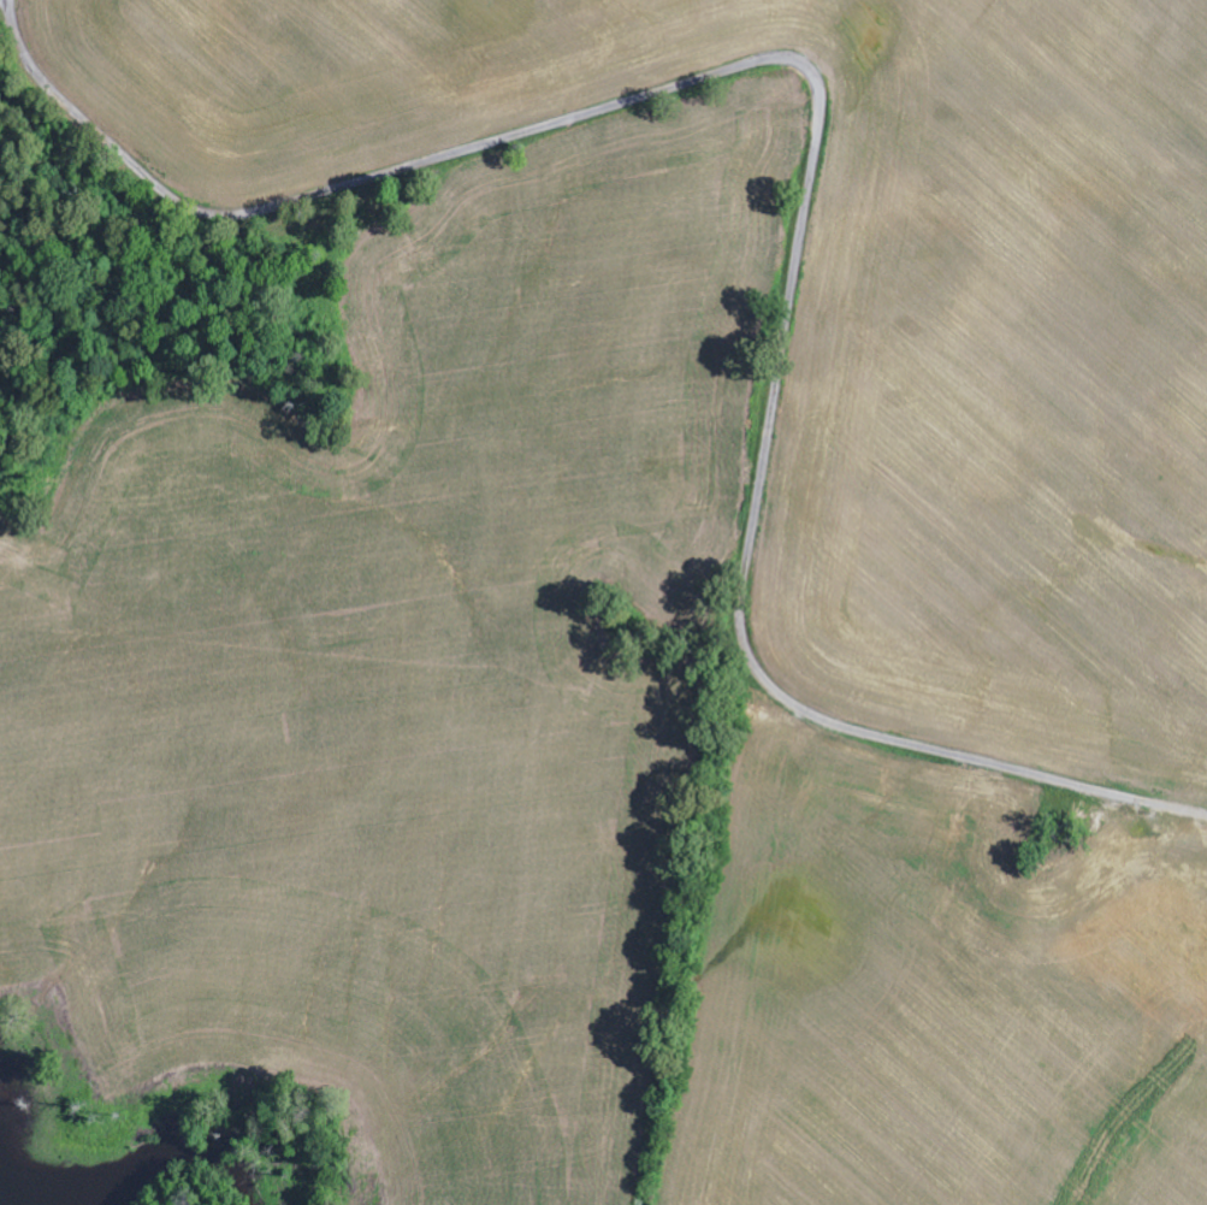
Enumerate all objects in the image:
road: (813, 148)

